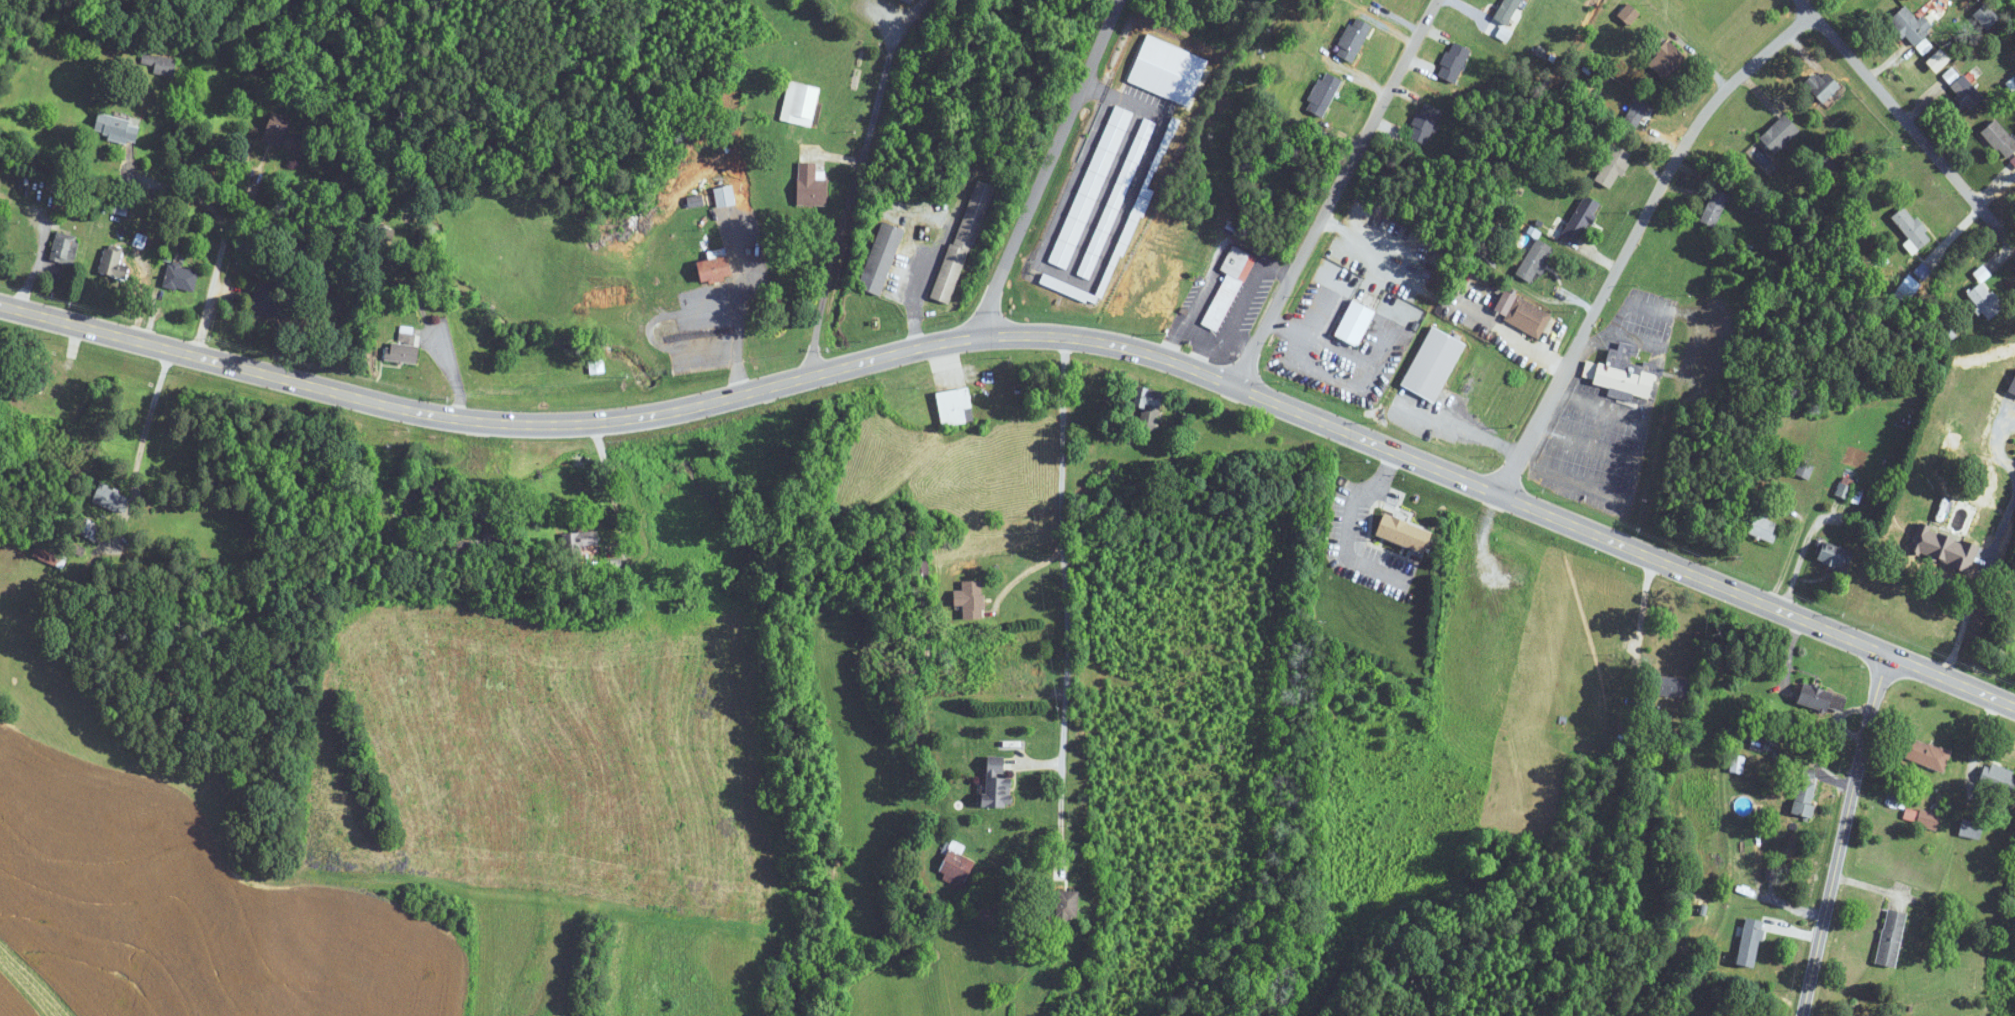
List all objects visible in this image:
building: (1505, 11)
building: (1628, 14)
building: (1985, 16)
building: (1910, 25)
building: (1351, 39)
building: (1665, 60)
building: (1452, 63)
building: (162, 65)
building: (1821, 86)
building: (1963, 89)
building: (1322, 94)
building: (799, 104)
building: (1637, 109)
road: (1909, 121)
building: (1423, 123)
building: (118, 127)
building: (278, 129)
building: (1778, 134)
building: (1999, 138)
road: (997, 143)
building: (1613, 166)
road: (1054, 169)
building: (809, 185)
road: (174, 187)
road: (1338, 192)
road: (851, 194)
building: (62, 195)
building: (723, 196)
road: (230, 207)
building: (1714, 207)
building: (1580, 218)
building: (1911, 227)
road: (1639, 236)
building: (962, 242)
building: (249, 243)
building: (65, 247)
building: (880, 258)
building: (1533, 260)
building: (113, 263)
building: (712, 267)
building: (181, 277)
road: (920, 283)
building: (1227, 287)
building: (267, 297)
building: (1985, 300)
road: (739, 313)
building: (1527, 317)
building: (1354, 322)
road: (650, 328)
road: (1030, 334)
building: (401, 353)
building: (1432, 364)
building: (1624, 373)
building: (597, 379)
building: (2011, 386)
building: (86, 395)
building: (952, 406)
building: (1146, 407)
road: (148, 420)
road: (1466, 430)
road: (1589, 440)
building: (1804, 469)
road: (612, 475)
road: (1635, 477)
road: (1574, 480)
building: (437, 484)
building: (108, 498)
building: (469, 513)
road: (1067, 516)
road: (1348, 521)
building: (1763, 527)
building: (89, 530)
building: (1400, 533)
building: (579, 543)
building: (1951, 550)
road: (1802, 552)
building: (48, 556)
building: (1833, 557)
building: (920, 569)
building: (968, 599)
road: (1640, 612)
road: (1966, 613)
building: (1029, 677)
building: (1671, 687)
building: (1820, 699)
building: (1924, 754)
road: (1065, 771)
building: (1997, 778)
building: (996, 783)
building: (1805, 792)
building: (1920, 818)
building: (1969, 829)
road: (1847, 832)
building: (954, 866)
building: (1066, 906)
building: (1889, 939)
building: (1749, 943)

